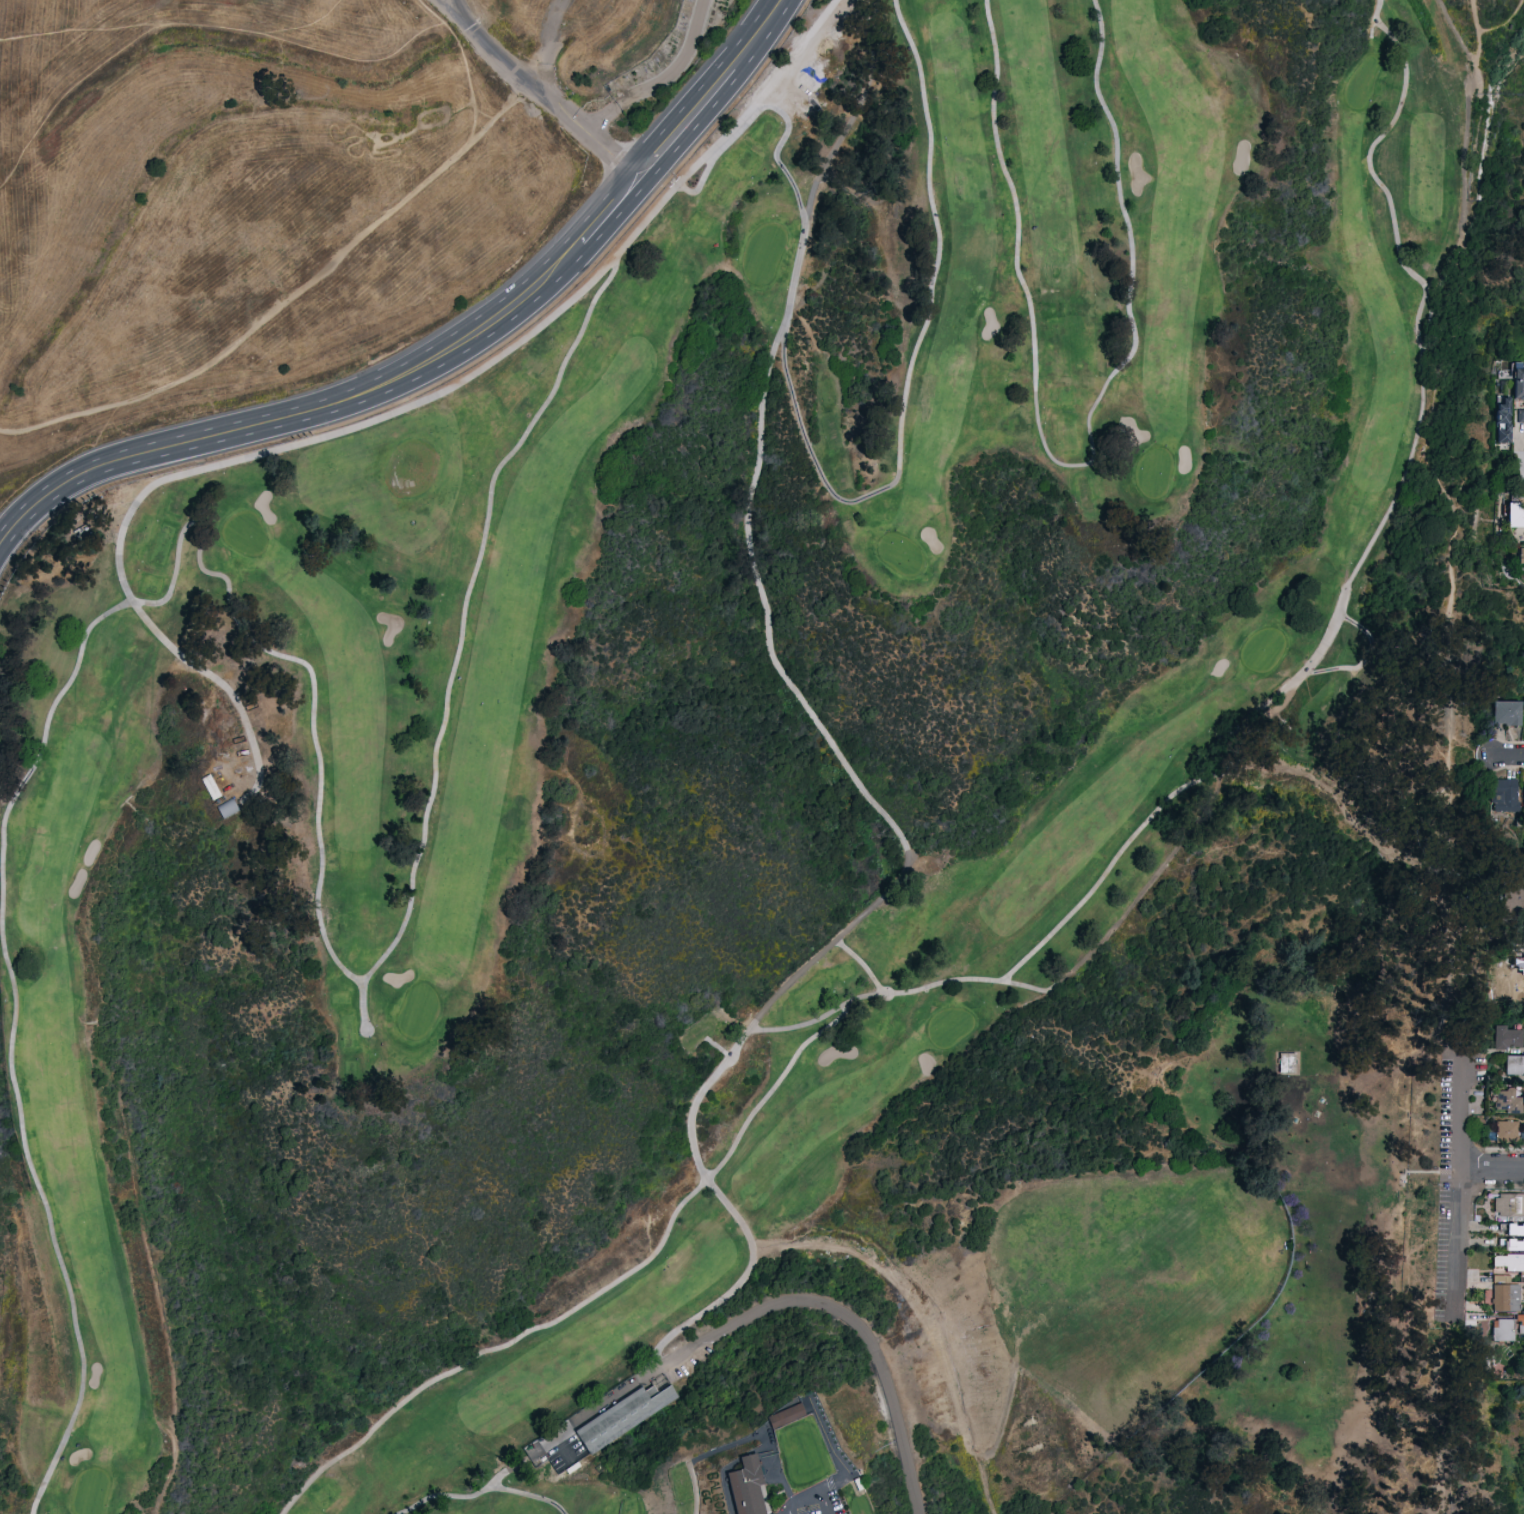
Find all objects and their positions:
road: (446, 2)
road: (451, 9)
road: (431, 13)
road: (1472, 17)
road: (1502, 27)
road: (289, 28)
road: (543, 42)
road: (293, 44)
road: (661, 81)
road: (65, 91)
road: (547, 103)
road: (481, 113)
road: (784, 171)
road: (860, 201)
road: (288, 302)
road: (787, 314)
road: (445, 357)
building: (1519, 384)
building: (1503, 419)
road: (4, 431)
road: (47, 444)
road: (66, 454)
road: (1076, 466)
building: (1515, 516)
road: (197, 524)
road: (1451, 539)
building: (1521, 559)
road: (121, 575)
road: (1381, 643)
road: (1311, 668)
building: (1522, 704)
building: (1506, 713)
park: (734, 755)
road: (1508, 756)
road: (1470, 758)
building: (1523, 792)
building: (1504, 796)
park: (730, 804)
building: (225, 808)
road: (889, 826)
building: (1512, 900)
road: (1521, 940)
building: (1523, 969)
building: (1509, 1037)
building: (1285, 1063)
building: (1514, 1066)
road: (777, 1083)
building: (1522, 1100)
building: (1508, 1101)
building: (1507, 1132)
road: (1492, 1170)
road: (1459, 1179)
parking lot: (1447, 1181)
building: (1509, 1206)
building: (1513, 1230)
building: (1510, 1236)
building: (1514, 1245)
building: (1508, 1262)
building: (1506, 1298)
road: (842, 1313)
building: (1521, 1320)
building: (1503, 1331)
road: (484, 1352)
road: (936, 1363)
road: (1439, 1405)
building: (619, 1414)
building: (787, 1416)
road: (64, 1441)
road: (690, 1464)
building: (747, 1485)
road: (815, 1498)
parking lot: (820, 1502)

